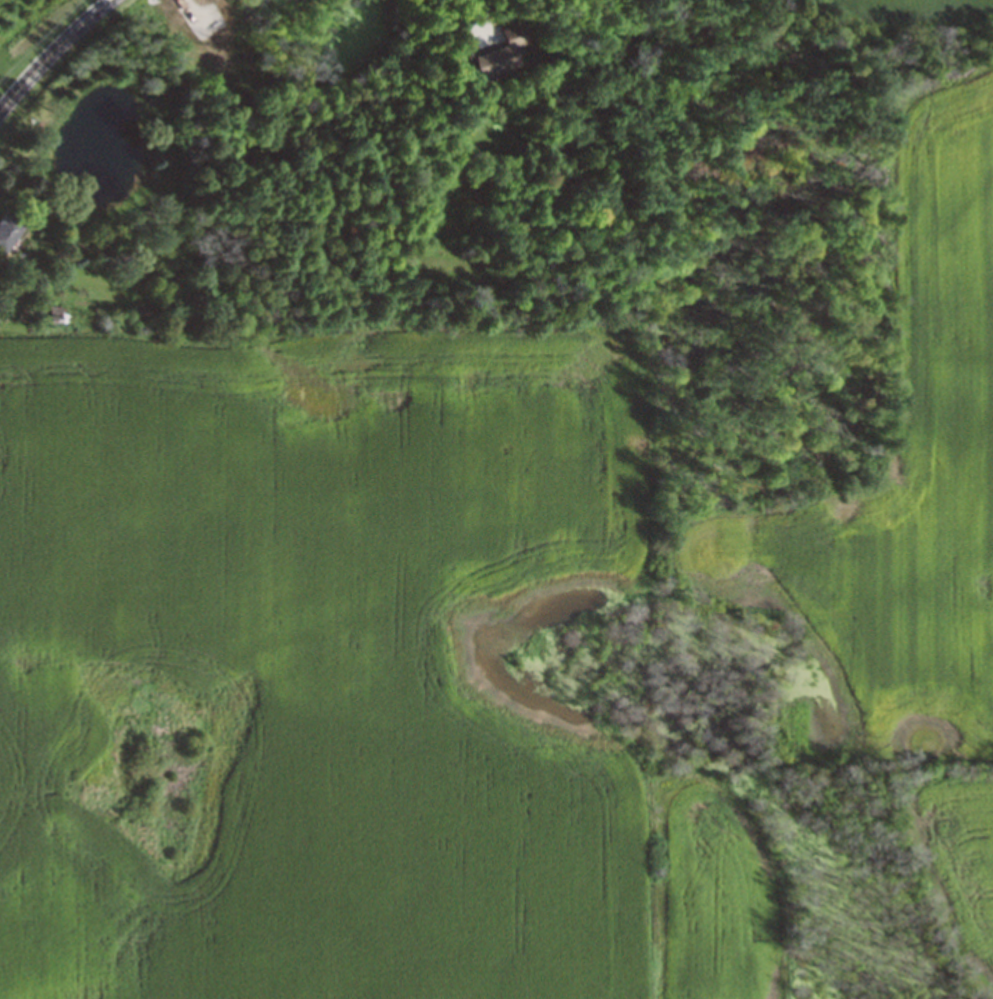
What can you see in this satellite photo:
road: (52, 52)
building: (500, 53)
building: (9, 232)

